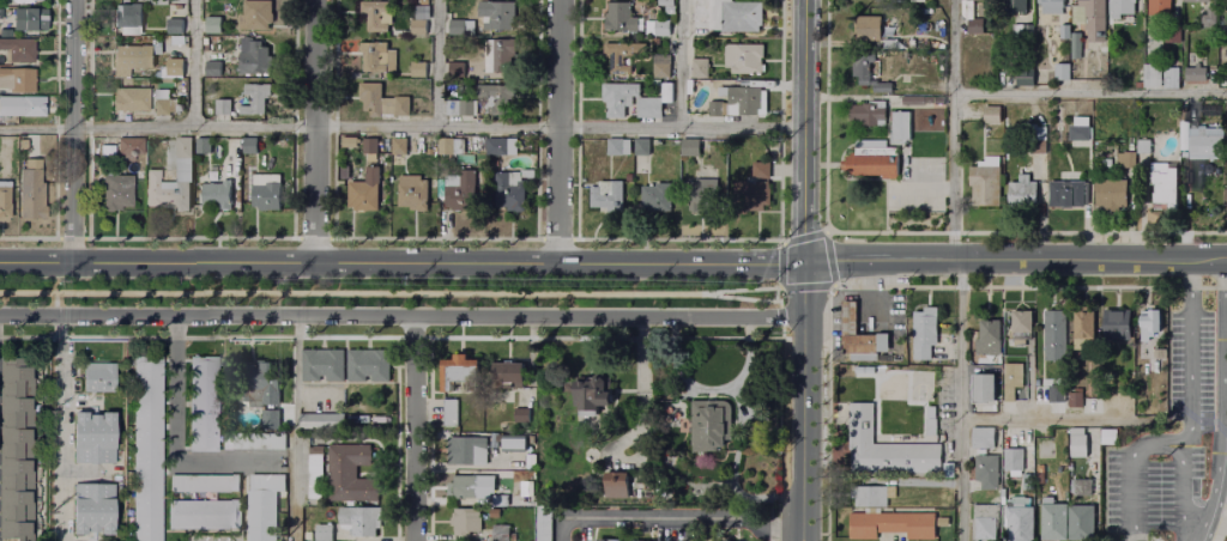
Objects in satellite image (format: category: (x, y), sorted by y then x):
building: (26, 1)
building: (896, 1)
building: (917, 1)
building: (974, 1)
building: (1196, 1)
building: (423, 2)
building: (665, 2)
building: (1225, 4)
building: (1015, 6)
building: (1051, 6)
building: (1159, 7)
building: (1122, 8)
building: (670, 11)
building: (1, 13)
building: (421, 13)
building: (255, 16)
building: (373, 16)
building: (496, 16)
building: (128, 17)
building: (741, 17)
building: (618, 18)
building: (699, 18)
building: (1093, 19)
building: (29, 20)
building: (174, 22)
building: (211, 25)
building: (417, 28)
building: (458, 28)
building: (921, 29)
building: (657, 30)
building: (866, 30)
building: (974, 30)
building: (1064, 32)
building: (1021, 36)
building: (1172, 37)
building: (889, 44)
building: (1075, 48)
building: (18, 49)
building: (1223, 50)
building: (485, 56)
building: (253, 57)
building: (619, 57)
building: (377, 59)
building: (131, 60)
building: (743, 60)
road: (436, 62)
road: (195, 63)
road: (679, 63)
building: (660, 66)
building: (174, 68)
building: (212, 69)
building: (700, 69)
building: (417, 71)
building: (455, 71)
building: (1060, 73)
building: (1168, 75)
building: (1196, 75)
building: (868, 77)
building: (1152, 78)
building: (18, 80)
building: (1023, 83)
building: (666, 93)
road: (1090, 96)
building: (132, 99)
building: (254, 99)
building: (496, 99)
building: (617, 99)
building: (926, 99)
building: (744, 101)
building: (909, 101)
building: (936, 101)
building: (381, 103)
building: (22, 107)
building: (165, 108)
building: (220, 108)
building: (460, 109)
building: (648, 109)
building: (713, 110)
building: (864, 114)
building: (990, 115)
building: (1226, 118)
road: (401, 126)
building: (897, 127)
road: (954, 129)
road: (74, 130)
road: (314, 130)
road: (804, 130)
road: (558, 132)
building: (1078, 134)
building: (1036, 140)
building: (349, 144)
building: (1199, 144)
building: (24, 145)
building: (203, 146)
building: (369, 146)
building: (445, 146)
building: (501, 146)
building: (1142, 146)
building: (129, 147)
building: (248, 147)
building: (398, 147)
building: (618, 148)
building: (642, 148)
building: (696, 148)
building: (108, 150)
building: (1125, 158)
building: (870, 162)
building: (760, 170)
park: (918, 170)
building: (182, 178)
building: (984, 186)
building: (1162, 187)
road: (920, 189)
building: (32, 190)
building: (117, 192)
building: (1022, 192)
building: (412, 193)
building: (461, 193)
building: (509, 193)
building: (1069, 194)
building: (1110, 194)
building: (363, 195)
building: (695, 195)
building: (218, 196)
building: (755, 196)
parking lot: (914, 196)
building: (266, 197)
building: (606, 197)
building: (655, 199)
building: (5, 200)
road: (827, 231)
road: (911, 232)
road: (30, 237)
road: (71, 237)
road: (189, 237)
road: (312, 238)
road: (433, 238)
road: (804, 238)
road: (555, 239)
road: (672, 239)
road: (780, 242)
road: (828, 260)
road: (1015, 260)
road: (403, 262)
traffic signals: (805, 262)
road: (780, 266)
road: (806, 287)
road: (902, 287)
road: (775, 290)
park: (388, 292)
road: (389, 293)
road: (744, 299)
road: (775, 299)
road: (55, 304)
road: (55, 311)
road: (403, 316)
road: (780, 317)
building: (848, 317)
building: (1022, 322)
building: (1149, 324)
building: (1075, 332)
building: (1123, 333)
road: (781, 334)
building: (924, 334)
building: (985, 335)
road: (200, 336)
building: (1053, 338)
road: (415, 339)
road: (604, 339)
building: (865, 344)
building: (1004, 351)
building: (322, 366)
building: (368, 366)
building: (844, 371)
road: (1191, 371)
building: (99, 377)
building: (461, 377)
building: (509, 377)
building: (1013, 382)
building: (260, 384)
building: (984, 390)
building: (1054, 395)
road: (961, 399)
building: (588, 400)
road: (804, 401)
building: (1075, 401)
road: (1225, 401)
building: (204, 403)
building: (449, 413)
building: (521, 417)
building: (271, 420)
building: (324, 421)
road: (1046, 421)
building: (709, 425)
road: (61, 427)
road: (413, 427)
road: (294, 428)
parking lot: (1175, 436)
building: (95, 438)
road: (174, 438)
building: (983, 438)
building: (254, 442)
building: (513, 443)
building: (1077, 444)
road: (1155, 446)
building: (882, 448)
building: (147, 449)
building: (19, 450)
building: (1045, 451)
building: (466, 452)
building: (1013, 463)
building: (945, 470)
building: (986, 473)
building: (340, 474)
building: (1034, 478)
building: (205, 484)
building: (1082, 487)
building: (471, 488)
building: (616, 488)
building: (870, 497)
building: (500, 502)
building: (95, 509)
building: (262, 509)
building: (204, 516)
road: (636, 517)
building: (362, 522)
building: (465, 523)
building: (984, 523)
building: (1019, 523)
building: (1051, 523)
building: (1081, 523)
building: (543, 524)
road: (767, 524)
building: (891, 525)
building: (322, 533)
building: (497, 534)
building: (211, 539)
building: (603, 540)

